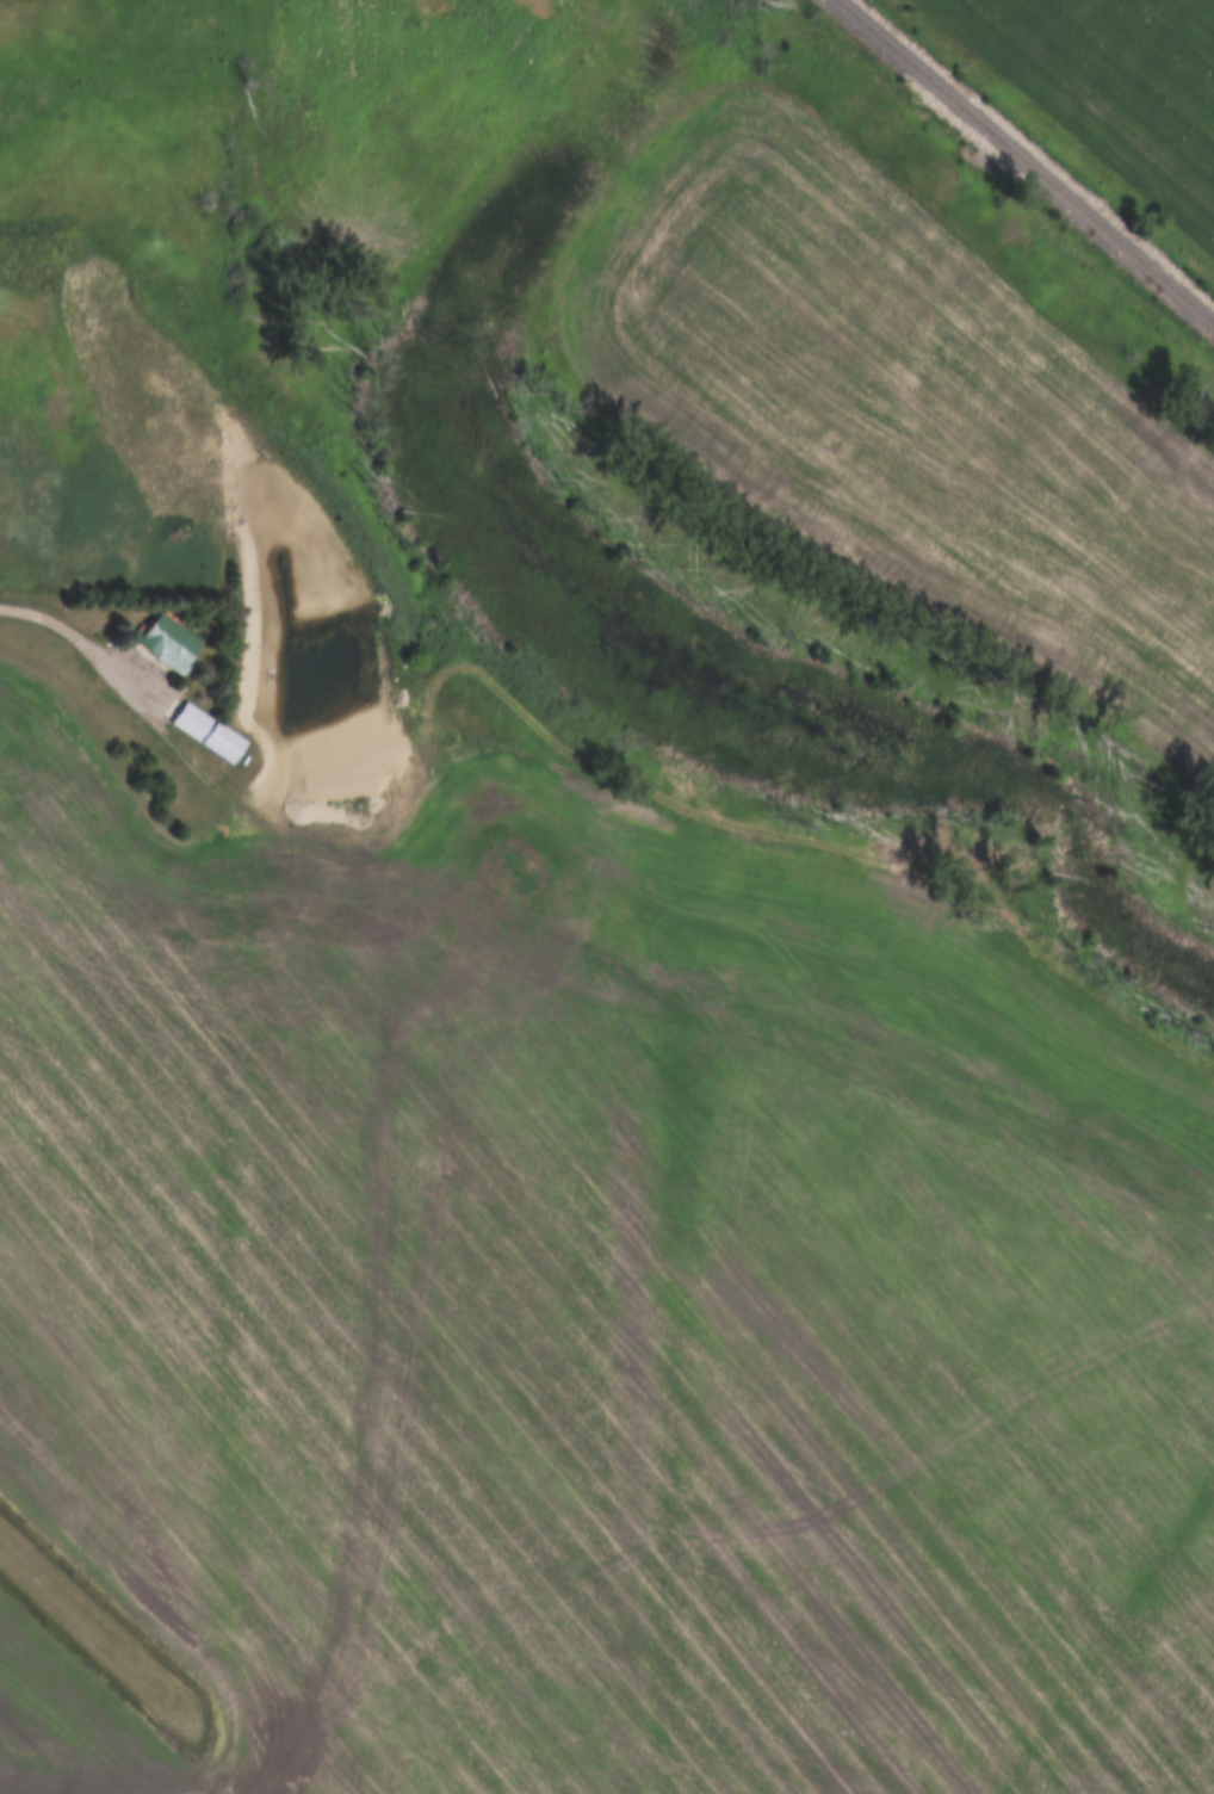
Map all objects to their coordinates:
railway: (1024, 163)
road: (79, 632)
building: (175, 642)
building: (211, 732)

